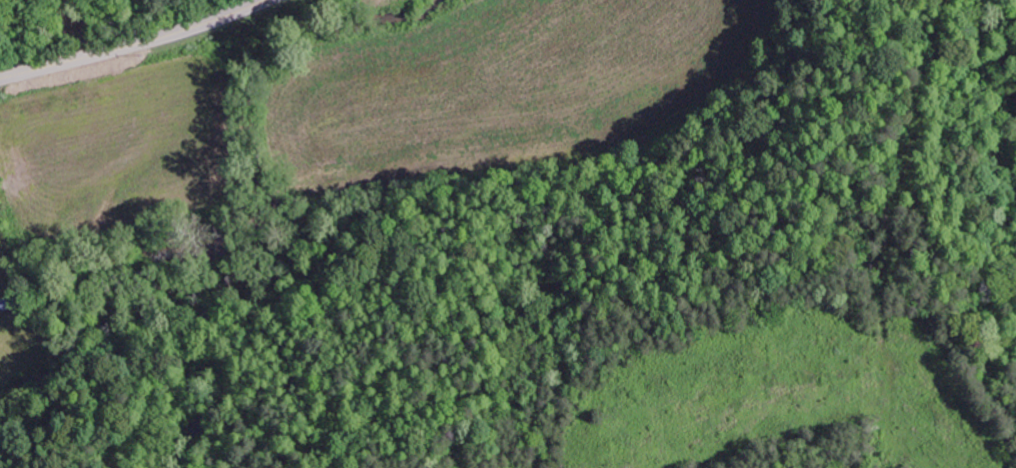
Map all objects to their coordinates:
road: (135, 46)

